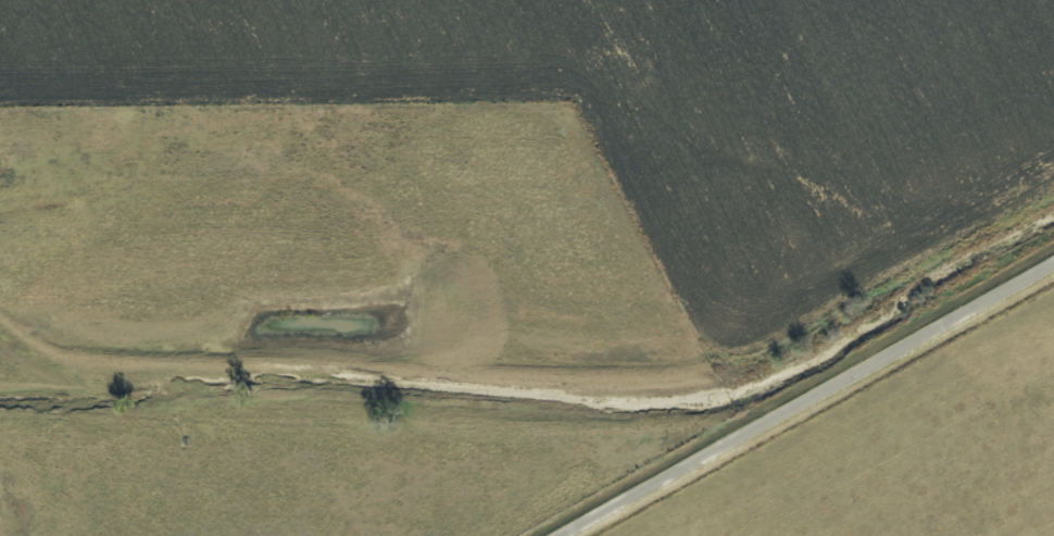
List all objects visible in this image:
road: (807, 399)

